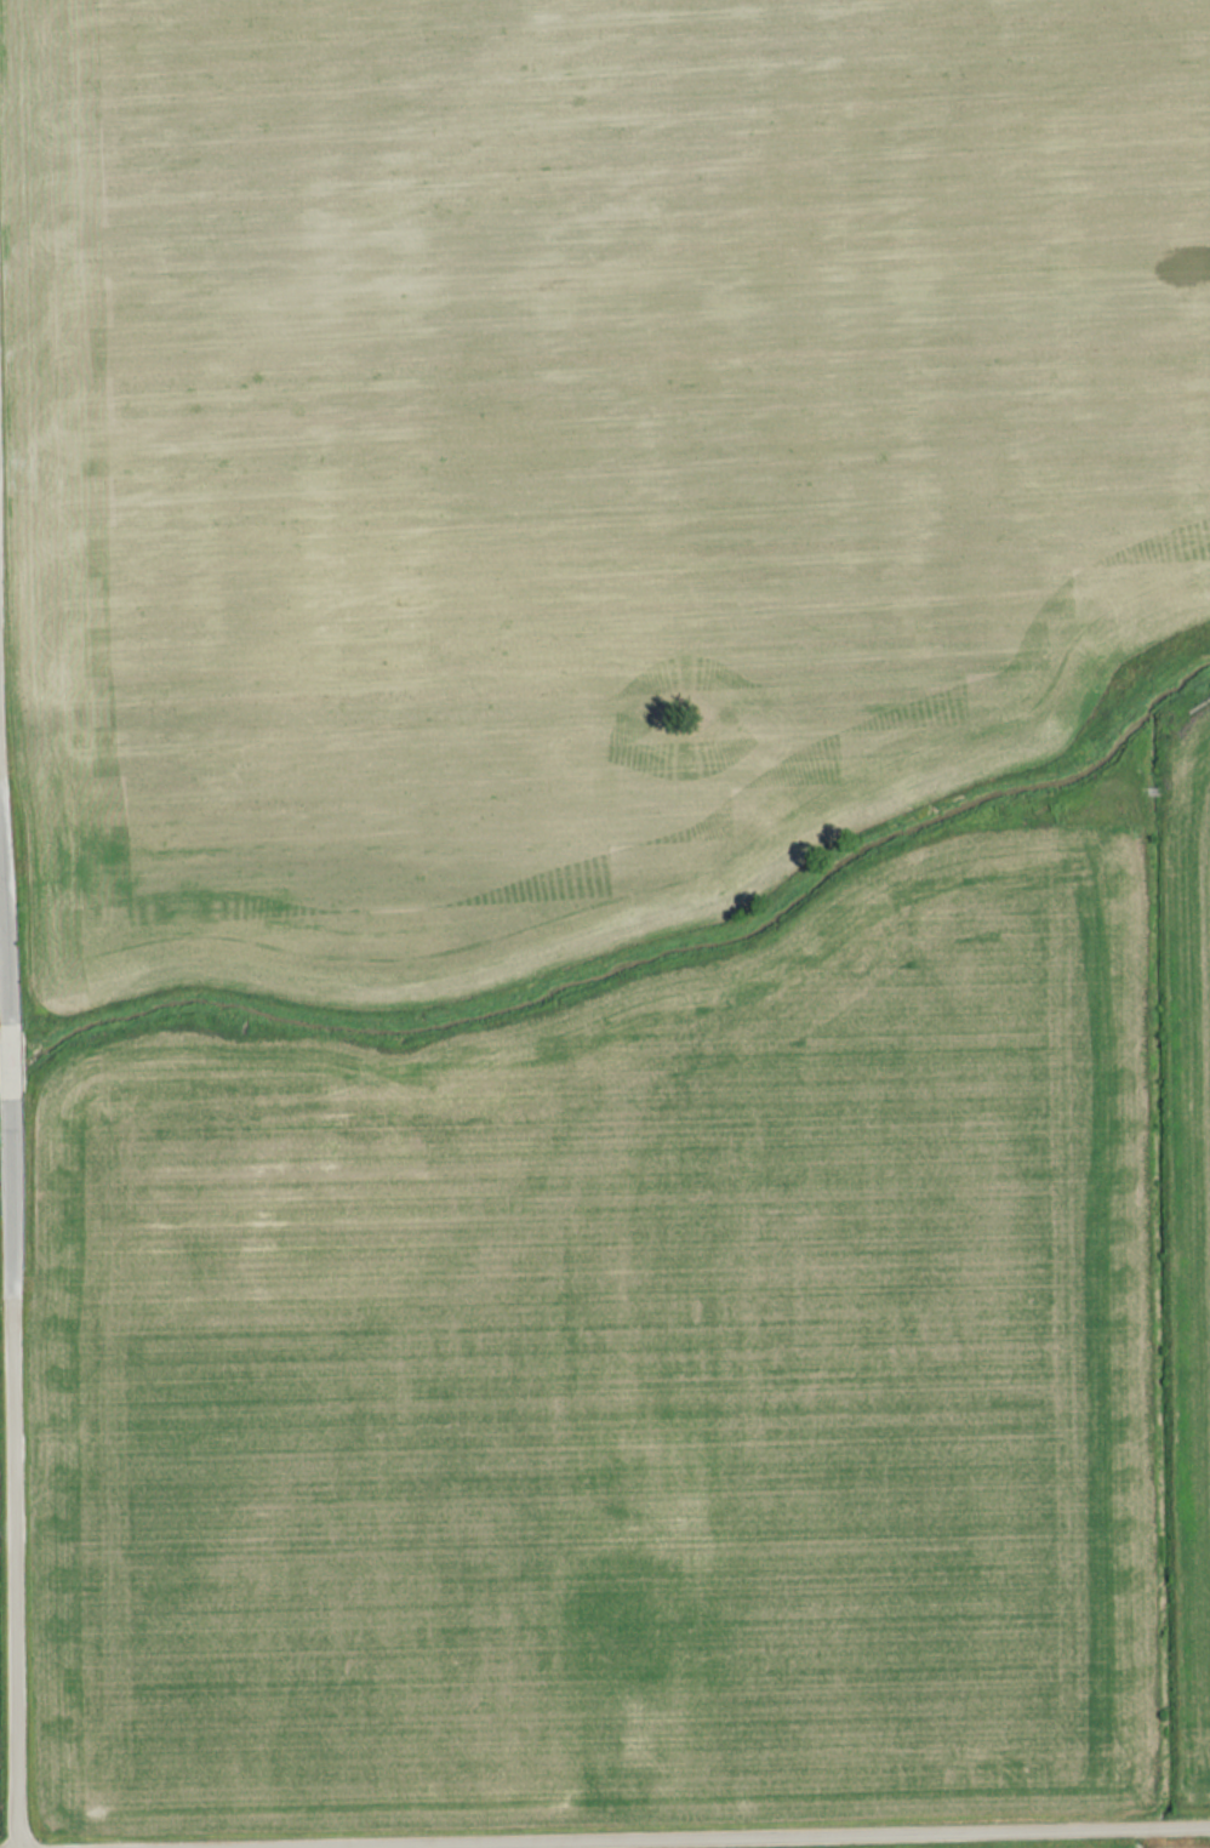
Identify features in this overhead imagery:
crop: (572, 446)
road: (2, 874)
road: (5, 1061)
crop: (1188, 1237)
crop: (615, 1390)
road: (13, 1472)
road: (701, 1837)

